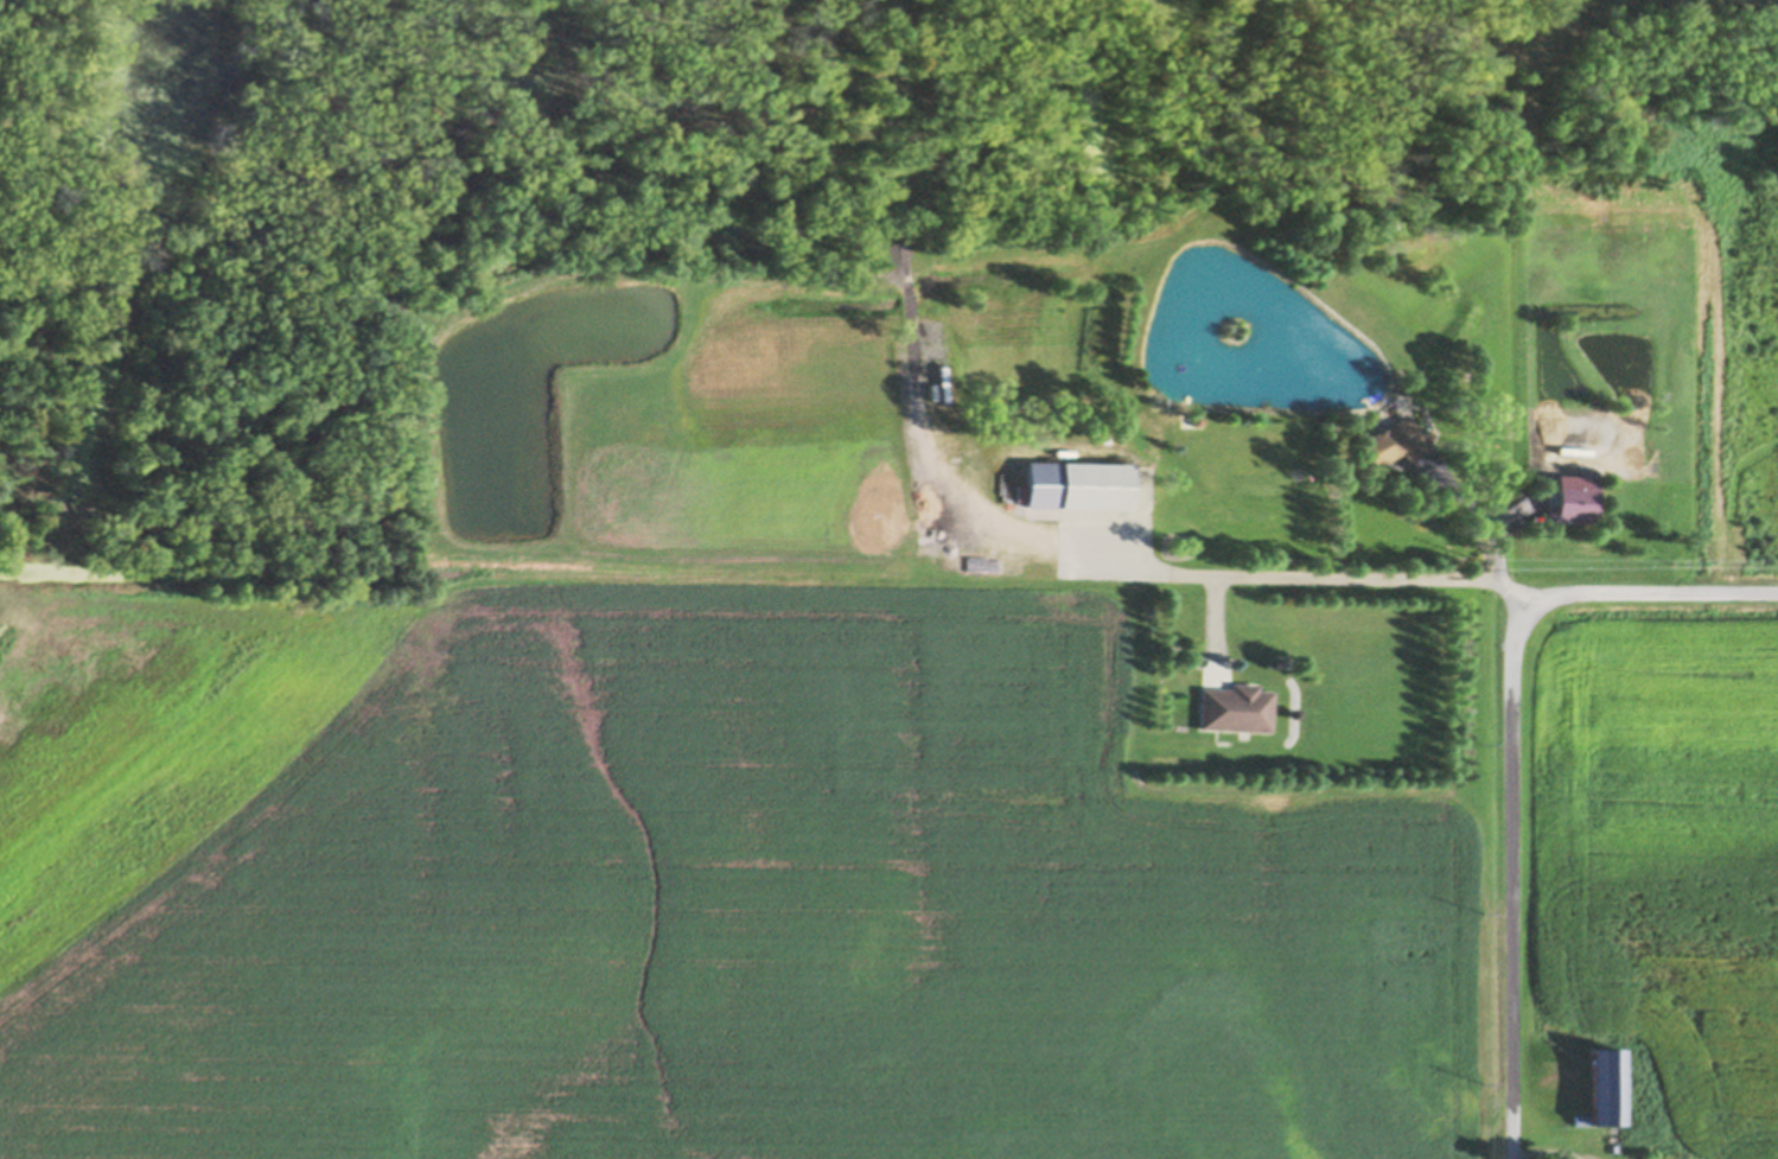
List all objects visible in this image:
building: (932, 386)
building: (1196, 414)
building: (1394, 435)
building: (1075, 477)
building: (1573, 496)
road: (1477, 510)
road: (987, 526)
building: (1235, 702)
road: (1512, 758)
building: (1601, 1082)

